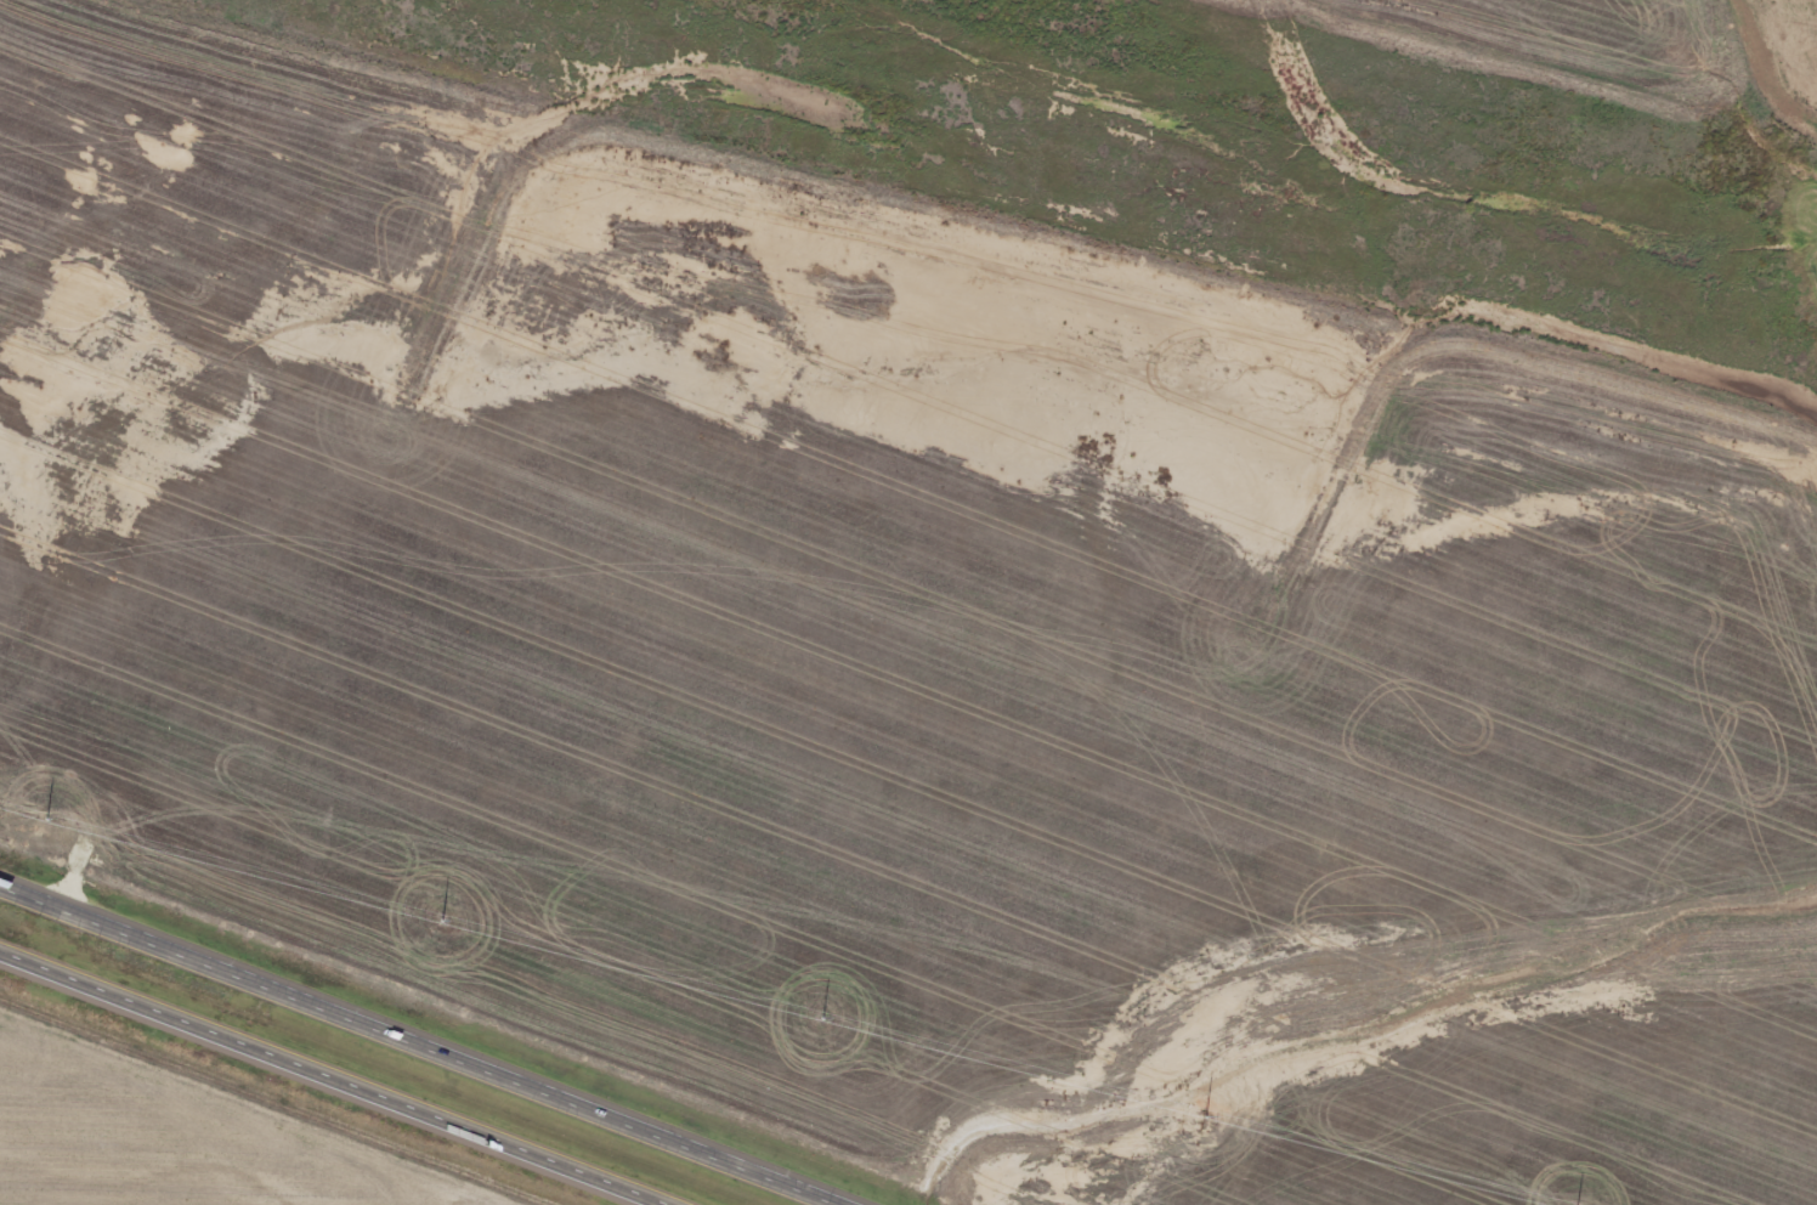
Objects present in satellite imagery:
power tower: (52, 826)
power tower: (435, 926)
power tower: (816, 1023)
road: (417, 1045)
road: (318, 1084)
power tower: (1199, 1119)

